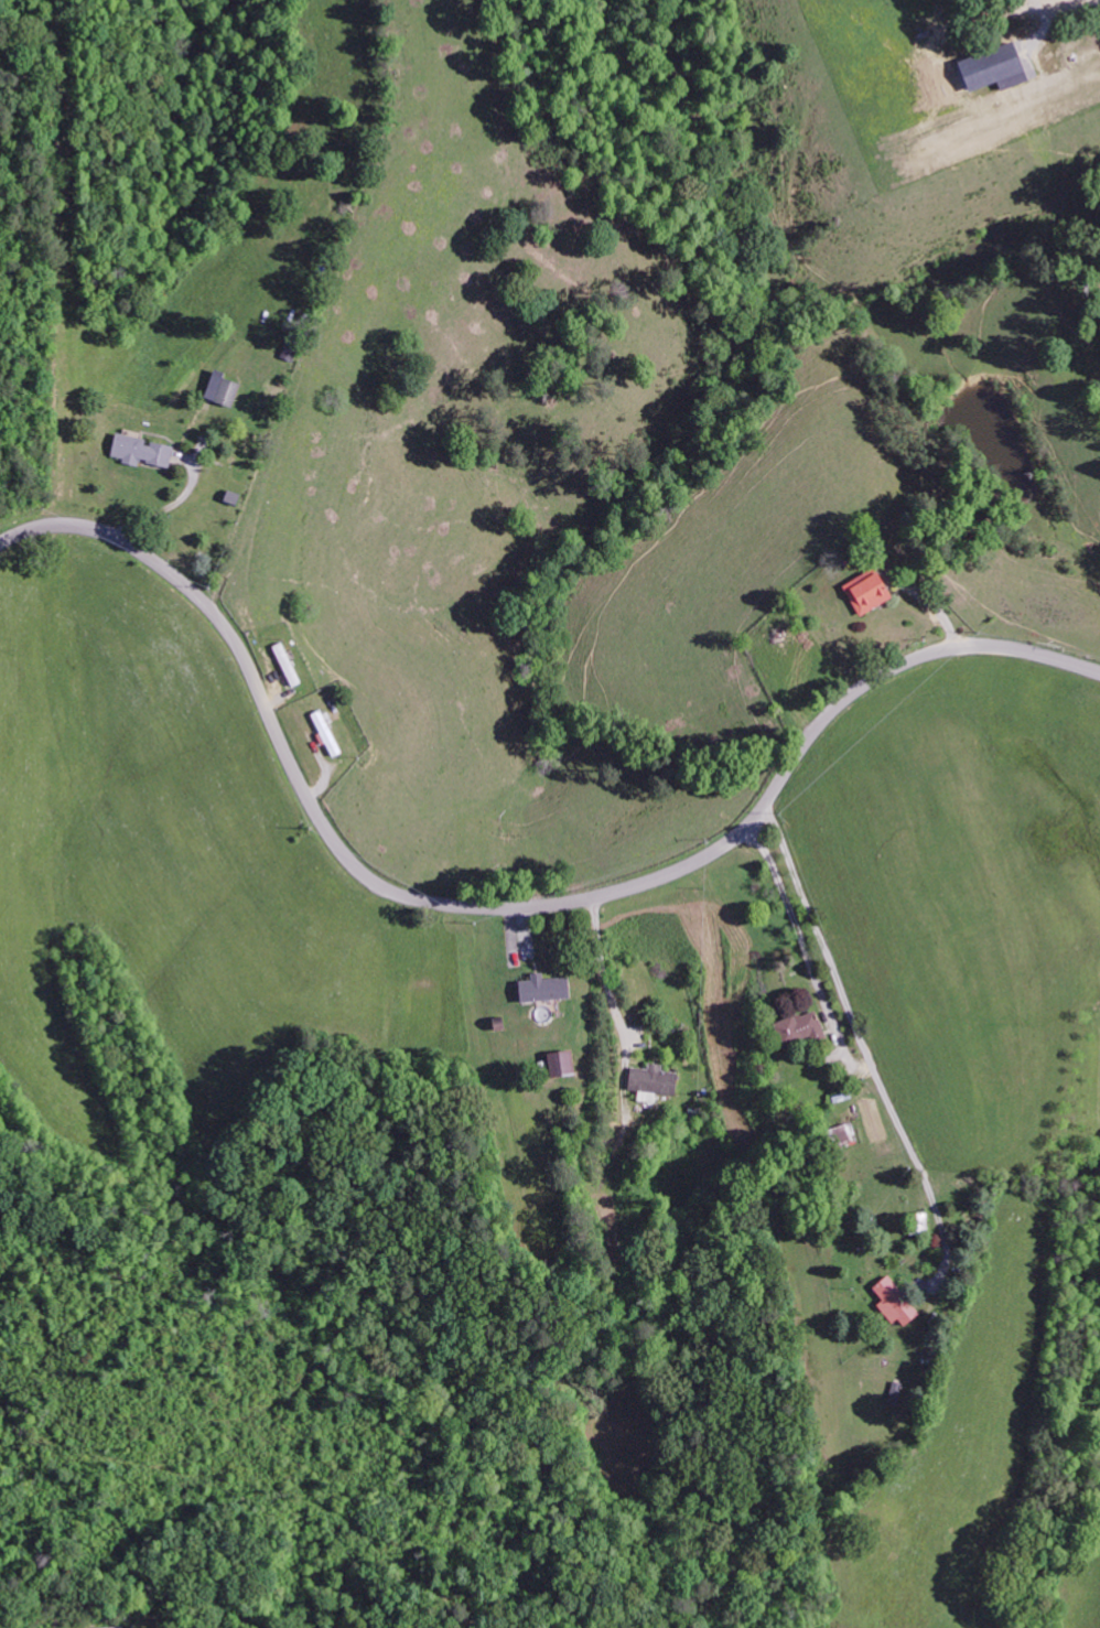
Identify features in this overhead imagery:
building: (990, 68)
building: (219, 388)
building: (138, 450)
building: (864, 591)
building: (285, 664)
building: (325, 732)
road: (502, 910)
building: (540, 988)
building: (797, 1028)
building: (557, 1063)
building: (650, 1082)
building: (840, 1134)
building: (916, 1223)
building: (893, 1302)
building: (121, 1627)

